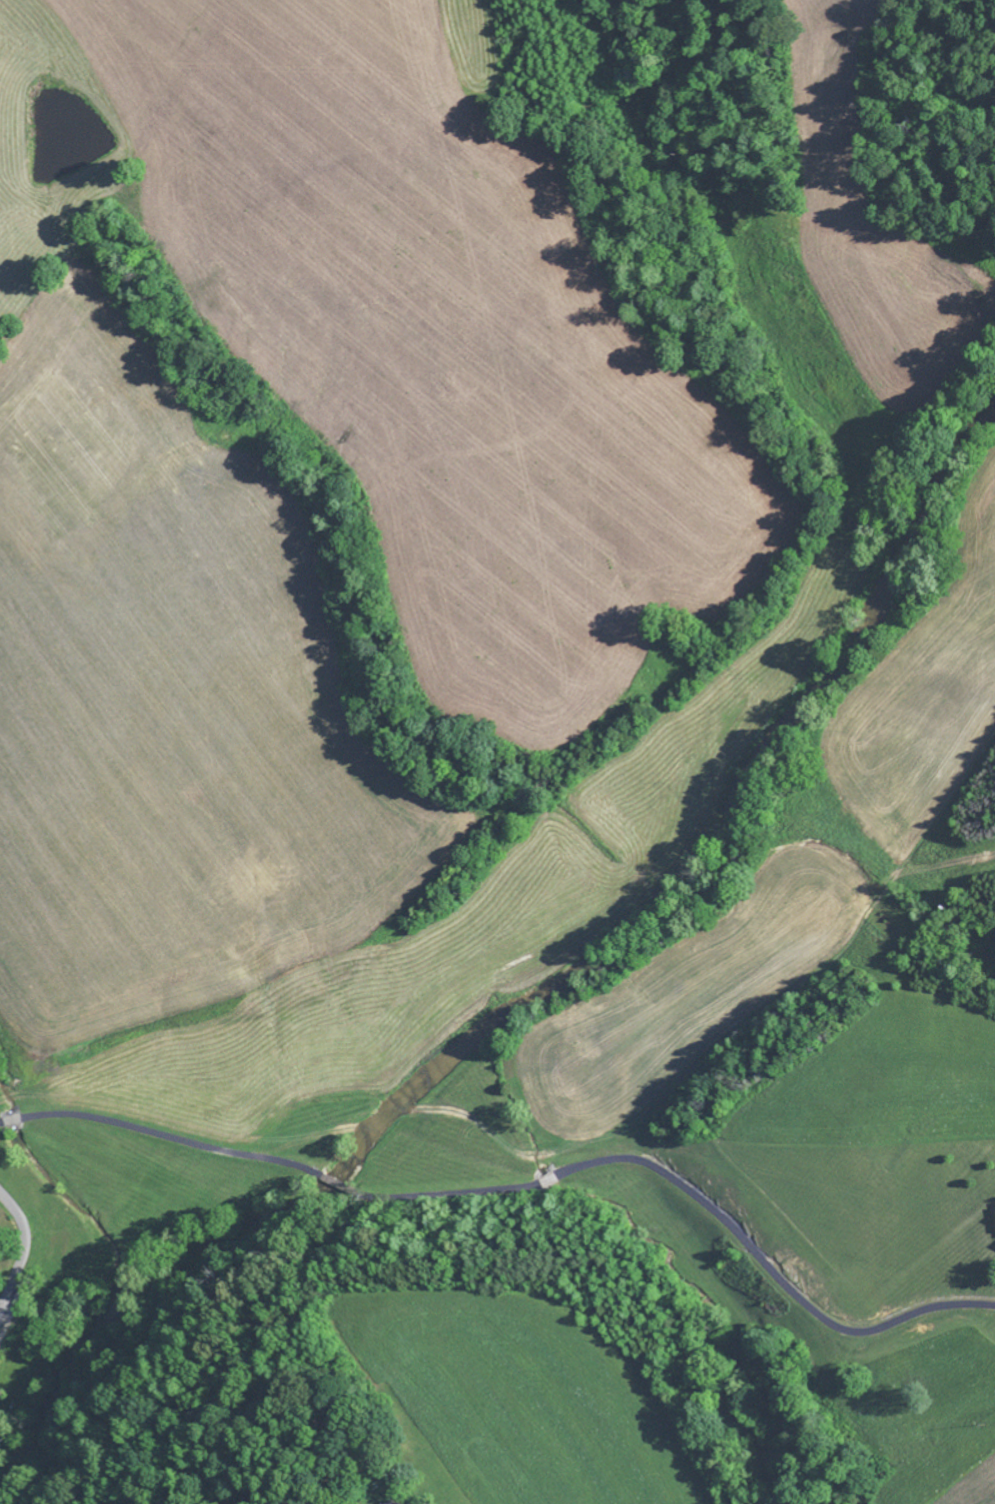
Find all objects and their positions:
road: (529, 1175)
road: (25, 1256)

